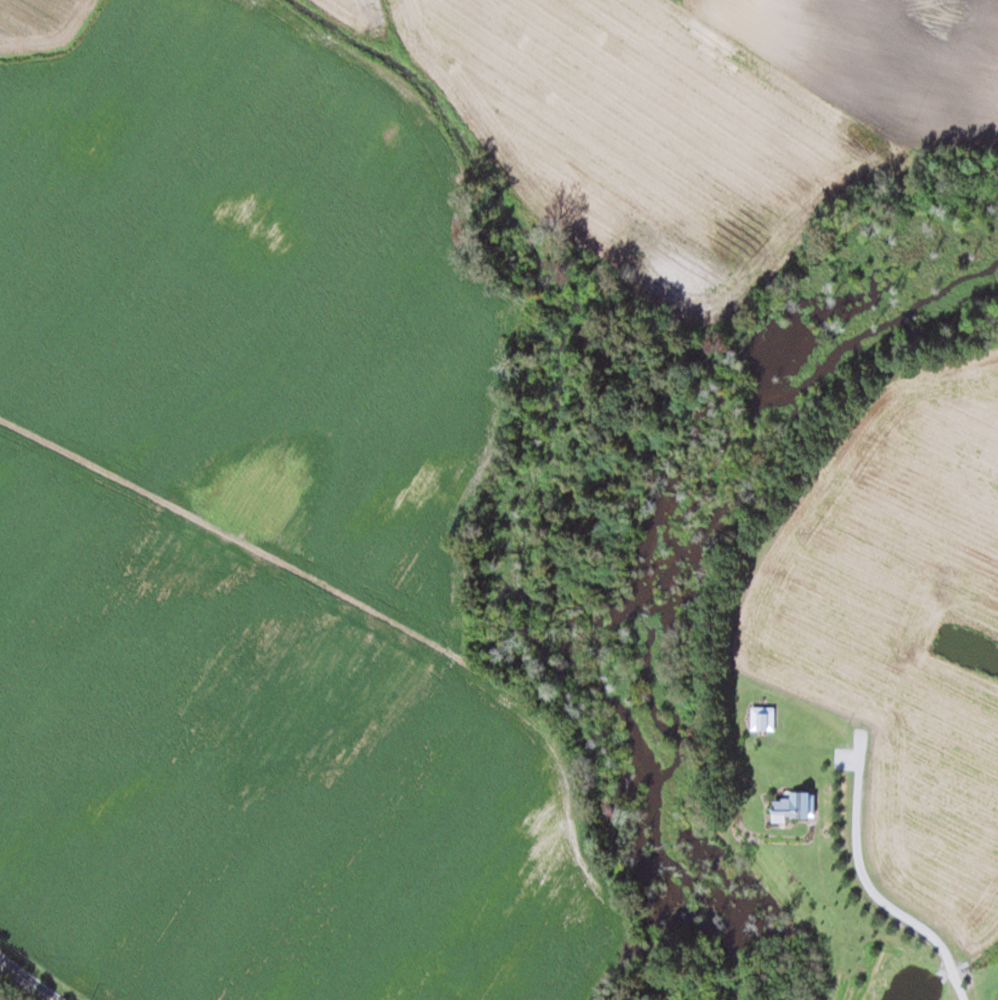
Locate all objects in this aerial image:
road: (27, 980)

